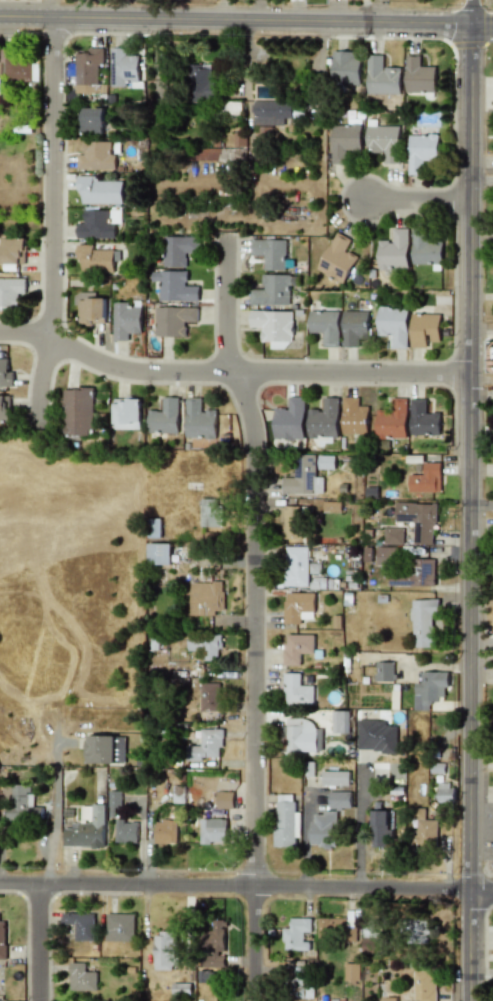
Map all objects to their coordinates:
road: (120, 9)
road: (470, 12)
road: (235, 20)
road: (482, 24)
building: (122, 67)
building: (345, 68)
building: (21, 70)
building: (88, 70)
building: (418, 76)
building: (381, 77)
building: (271, 112)
building: (92, 120)
building: (239, 140)
building: (344, 142)
building: (384, 142)
building: (421, 152)
building: (95, 156)
road: (490, 180)
road: (480, 181)
building: (98, 190)
road: (419, 207)
road: (53, 224)
building: (95, 225)
building: (424, 247)
building: (178, 250)
building: (393, 250)
building: (269, 252)
building: (95, 259)
building: (337, 259)
building: (174, 286)
building: (273, 290)
building: (11, 291)
building: (90, 307)
building: (125, 320)
building: (174, 320)
road: (480, 324)
building: (272, 325)
building: (325, 326)
building: (392, 326)
building: (353, 327)
building: (424, 329)
building: (5, 374)
road: (227, 374)
road: (479, 379)
building: (4, 408)
building: (79, 412)
building: (127, 413)
building: (165, 417)
building: (353, 417)
building: (324, 419)
building: (391, 419)
building: (423, 419)
building: (199, 420)
building: (289, 420)
road: (466, 455)
building: (324, 462)
building: (303, 477)
building: (425, 479)
road: (480, 505)
building: (210, 512)
building: (418, 520)
building: (290, 522)
building: (392, 536)
building: (158, 553)
building: (385, 556)
building: (296, 566)
building: (422, 572)
building: (205, 598)
building: (297, 607)
road: (255, 618)
building: (423, 622)
building: (204, 645)
building: (297, 648)
building: (384, 671)
building: (296, 689)
building: (429, 689)
building: (209, 696)
building: (340, 722)
building: (300, 735)
building: (376, 736)
building: (206, 745)
building: (99, 749)
building: (119, 749)
building: (335, 778)
building: (445, 792)
building: (339, 800)
road: (56, 801)
building: (113, 801)
building: (22, 805)
building: (85, 813)
building: (286, 821)
building: (380, 828)
building: (322, 829)
building: (87, 830)
building: (212, 830)
road: (363, 830)
building: (125, 831)
building: (164, 831)
building: (425, 834)
road: (246, 885)
building: (80, 925)
building: (119, 927)
building: (332, 928)
building: (415, 932)
building: (296, 934)
building: (2, 940)
road: (39, 943)
building: (371, 944)
road: (470, 944)
building: (214, 948)
building: (165, 949)
building: (351, 972)
building: (81, 977)
building: (209, 977)
building: (424, 986)

